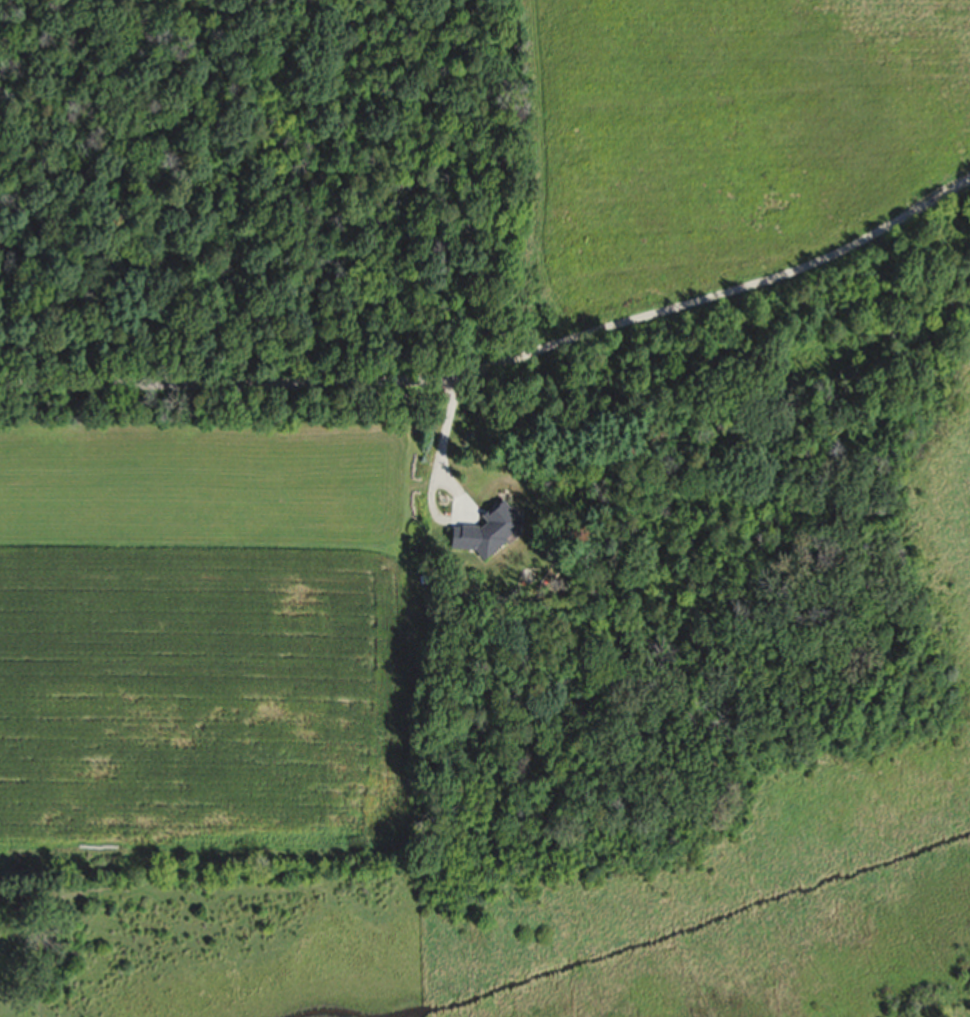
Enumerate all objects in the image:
road: (753, 294)
road: (262, 394)
road: (444, 482)
building: (487, 528)

